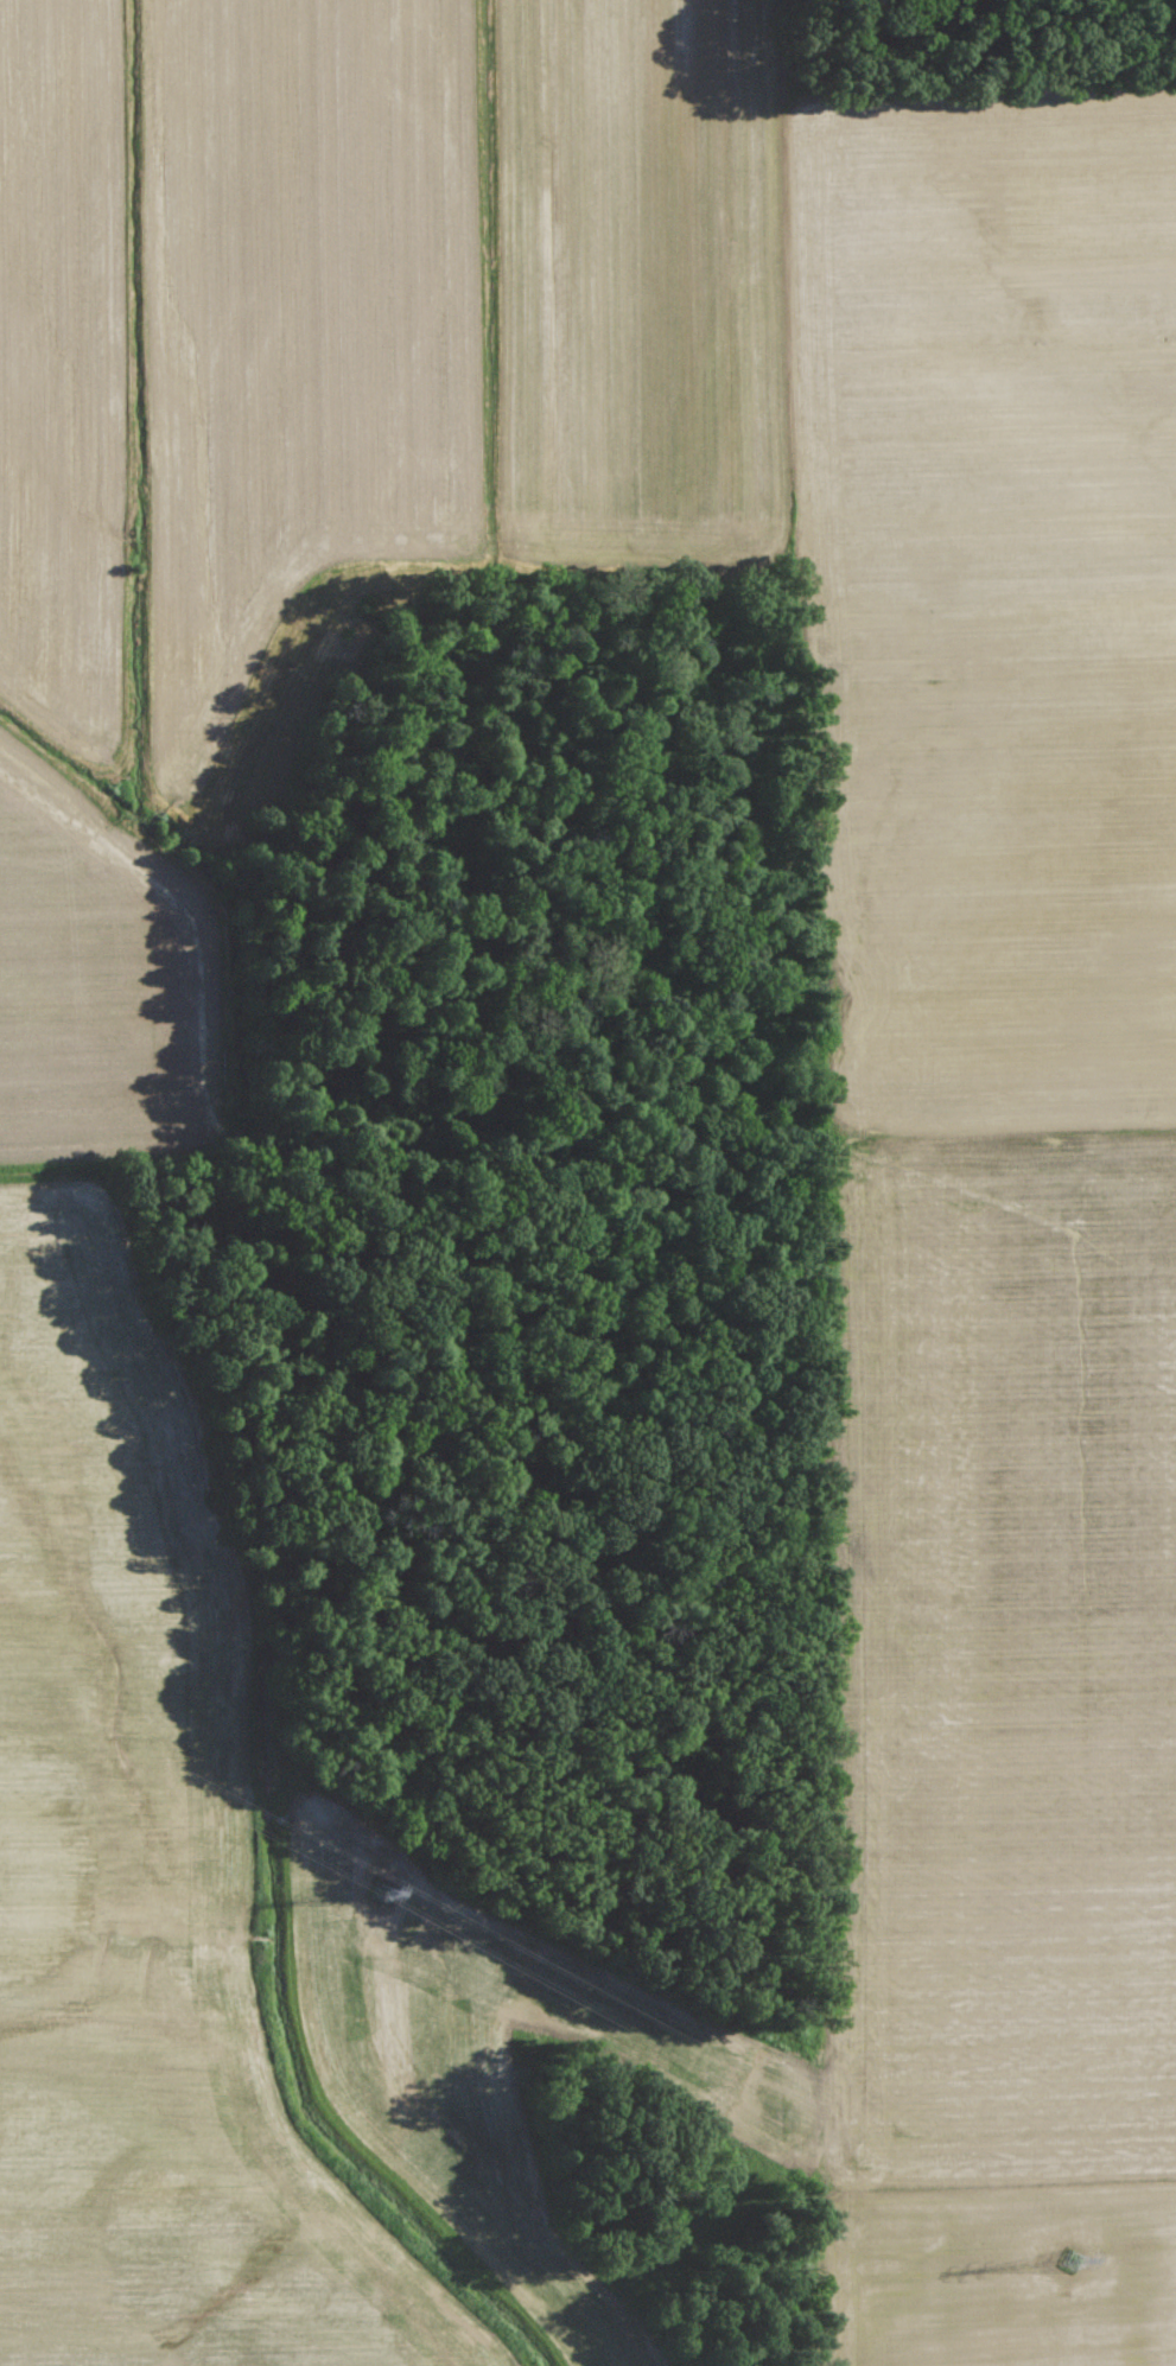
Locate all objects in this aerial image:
power tower: (367, 1916)
power tower: (1053, 2275)

